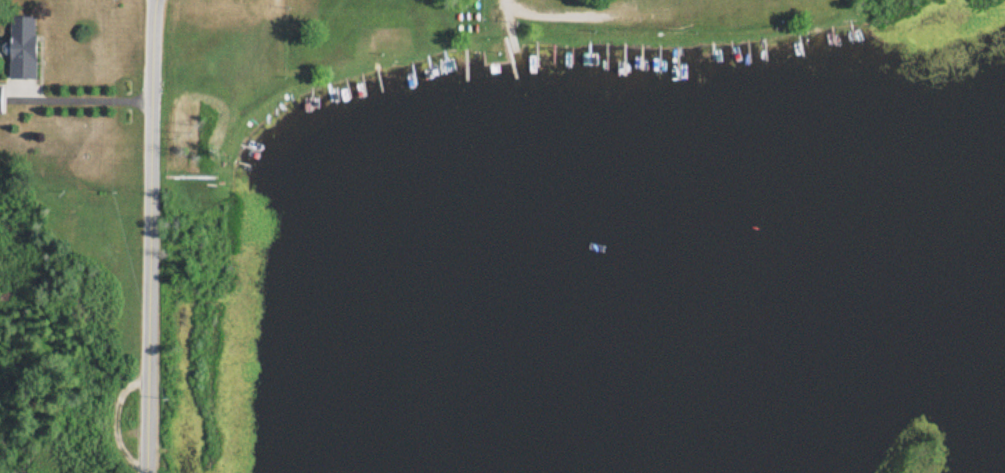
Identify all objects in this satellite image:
building: (20, 48)
building: (0, 99)
road: (83, 100)
road: (147, 236)

